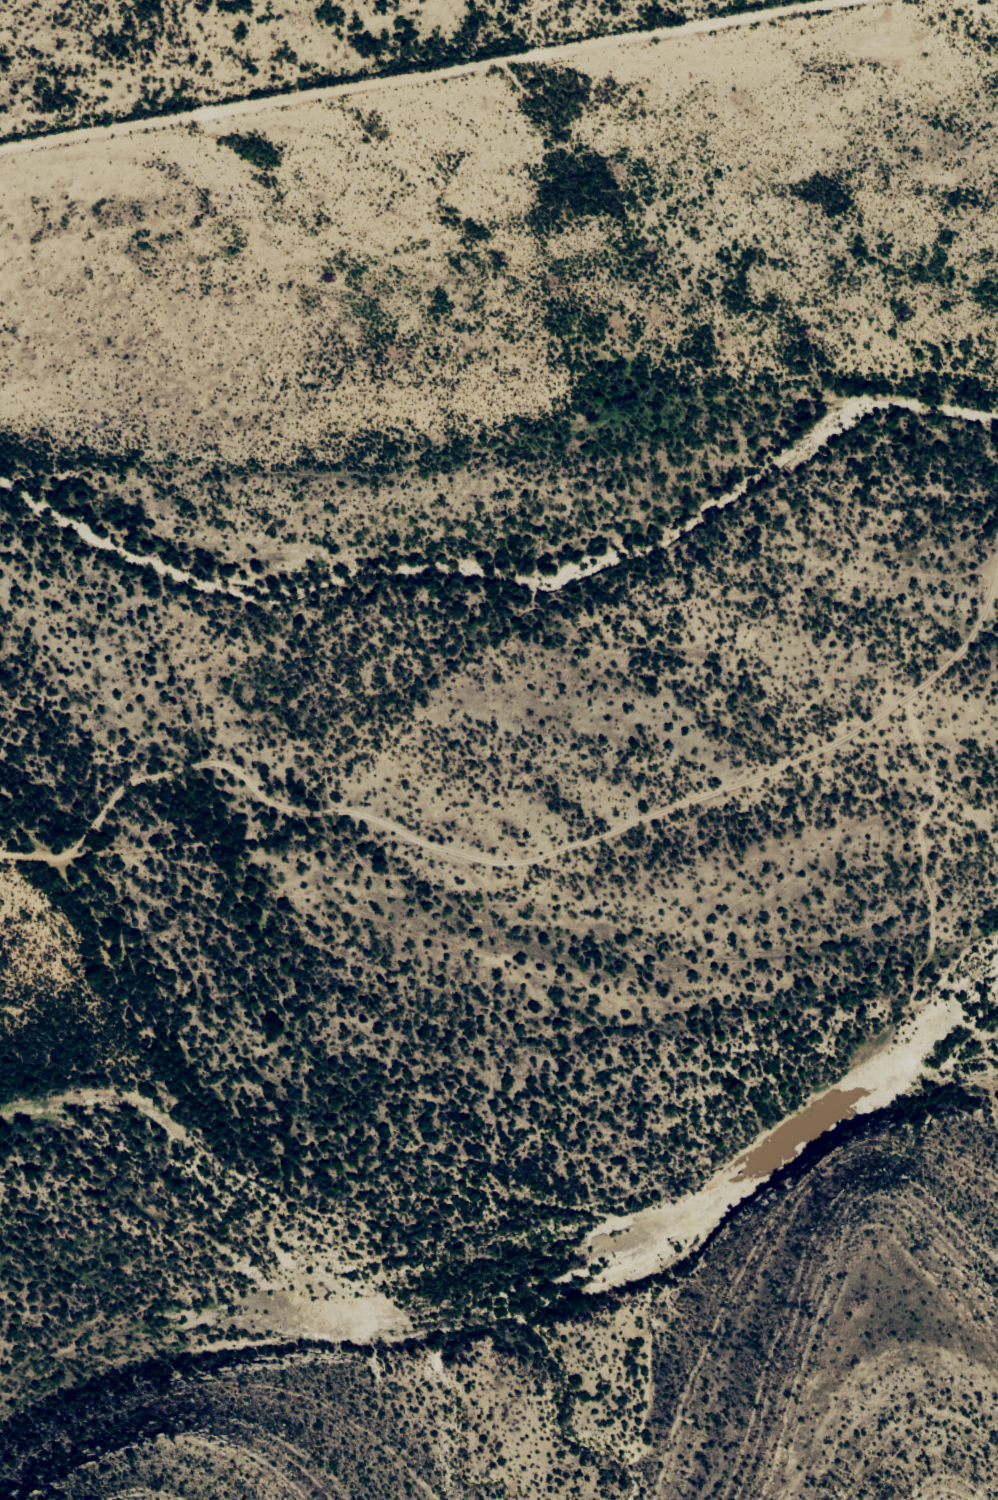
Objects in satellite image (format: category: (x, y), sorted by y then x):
road: (499, 95)
road: (571, 849)

